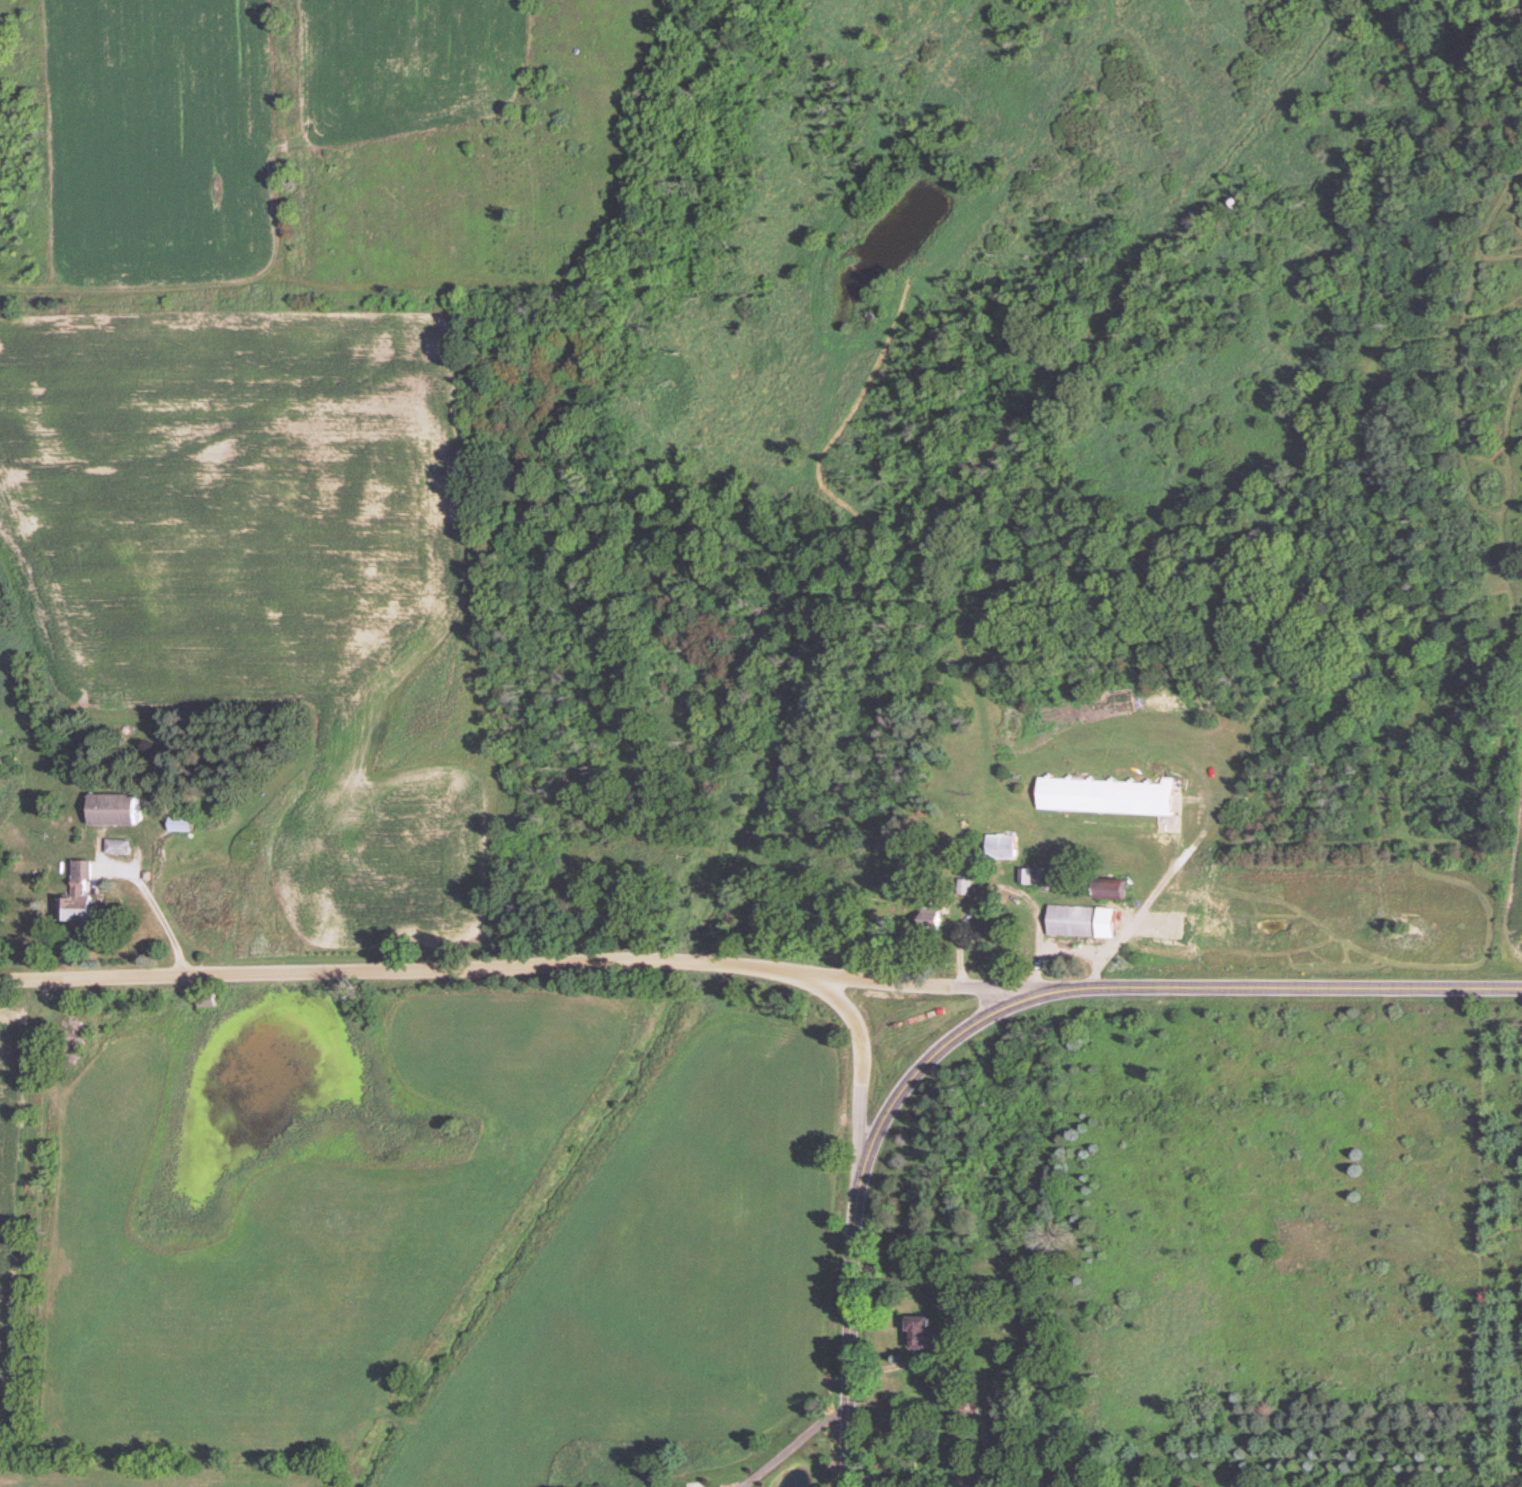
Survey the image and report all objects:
building: (1102, 797)
building: (108, 810)
building: (174, 825)
building: (113, 847)
building: (995, 848)
building: (960, 888)
road: (1002, 888)
building: (1102, 889)
building: (73, 897)
building: (207, 910)
road: (174, 916)
building: (926, 916)
building: (1069, 922)
road: (519, 960)
road: (991, 1003)
building: (62, 1038)
road: (862, 1074)
building: (918, 1335)
building: (961, 1409)
road: (795, 1447)

